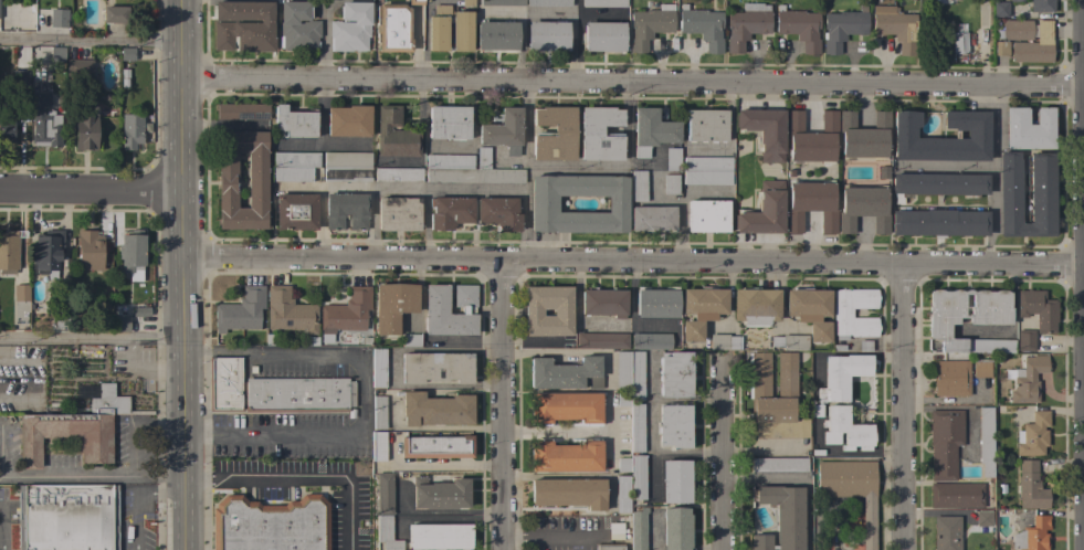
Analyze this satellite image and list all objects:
building: (1015, 0)
building: (417, 2)
building: (502, 2)
building: (466, 3)
building: (548, 3)
building: (603, 3)
building: (1041, 6)
building: (999, 9)
building: (114, 14)
building: (57, 18)
building: (746, 24)
building: (242, 25)
building: (649, 25)
building: (703, 27)
building: (895, 27)
building: (297, 28)
building: (350, 28)
building: (392, 28)
building: (799, 28)
building: (842, 29)
building: (436, 35)
building: (496, 35)
building: (547, 35)
building: (603, 36)
road: (424, 40)
building: (1028, 40)
road: (91, 41)
building: (959, 43)
building: (1001, 47)
building: (56, 54)
building: (127, 54)
road: (788, 64)
building: (82, 67)
building: (18, 78)
road: (633, 84)
building: (242, 112)
road: (629, 118)
building: (348, 120)
building: (449, 121)
building: (44, 123)
building: (294, 123)
building: (705, 125)
building: (1028, 128)
building: (7, 130)
building: (131, 130)
building: (503, 130)
building: (651, 131)
building: (764, 131)
building: (85, 133)
building: (393, 134)
building: (554, 134)
building: (599, 134)
building: (977, 134)
road: (322, 135)
building: (863, 136)
building: (811, 137)
road: (298, 142)
building: (672, 158)
building: (294, 166)
building: (347, 167)
building: (467, 169)
building: (706, 170)
road: (527, 172)
building: (398, 174)
road: (990, 176)
building: (227, 180)
building: (670, 183)
building: (936, 184)
building: (638, 186)
road: (297, 188)
road: (387, 189)
building: (1041, 190)
road: (92, 192)
building: (543, 204)
building: (810, 205)
road: (682, 207)
building: (863, 209)
building: (346, 211)
building: (764, 211)
building: (295, 212)
building: (449, 212)
building: (498, 212)
building: (398, 214)
building: (707, 215)
building: (651, 218)
building: (939, 223)
road: (369, 225)
road: (425, 225)
building: (9, 251)
building: (90, 251)
building: (46, 253)
building: (131, 254)
road: (634, 263)
road: (186, 274)
building: (20, 293)
building: (603, 303)
building: (656, 304)
building: (392, 306)
building: (755, 306)
building: (435, 309)
building: (1038, 309)
building: (240, 310)
building: (699, 310)
building: (140, 311)
building: (288, 311)
building: (809, 311)
building: (561, 313)
building: (345, 314)
building: (842, 314)
building: (968, 318)
building: (39, 319)
building: (64, 319)
building: (119, 324)
road: (93, 340)
building: (410, 340)
building: (602, 340)
building: (1025, 340)
building: (651, 341)
building: (723, 341)
building: (789, 342)
road: (261, 351)
building: (435, 367)
building: (378, 368)
building: (981, 368)
building: (630, 372)
building: (566, 373)
building: (674, 374)
building: (950, 378)
building: (1028, 379)
building: (758, 388)
building: (273, 391)
building: (622, 399)
building: (843, 401)
building: (108, 402)
road: (504, 406)
building: (566, 408)
road: (905, 408)
building: (434, 409)
building: (379, 413)
building: (673, 425)
building: (636, 427)
road: (557, 432)
building: (1032, 435)
building: (65, 436)
road: (322, 436)
building: (985, 441)
building: (944, 443)
building: (436, 445)
building: (378, 446)
road: (130, 451)
building: (565, 456)
road: (725, 461)
building: (779, 465)
road: (65, 475)
building: (634, 475)
road: (302, 476)
building: (675, 480)
building: (1030, 486)
building: (851, 489)
building: (383, 493)
building: (568, 493)
building: (439, 494)
building: (622, 494)
building: (956, 495)
road: (138, 498)
building: (66, 517)
building: (780, 517)
building: (983, 518)
building: (270, 525)
building: (622, 526)
building: (638, 528)
building: (675, 529)
road: (0, 531)
building: (946, 532)
building: (386, 533)
building: (1032, 535)
building: (440, 537)
road: (548, 537)
building: (609, 547)

